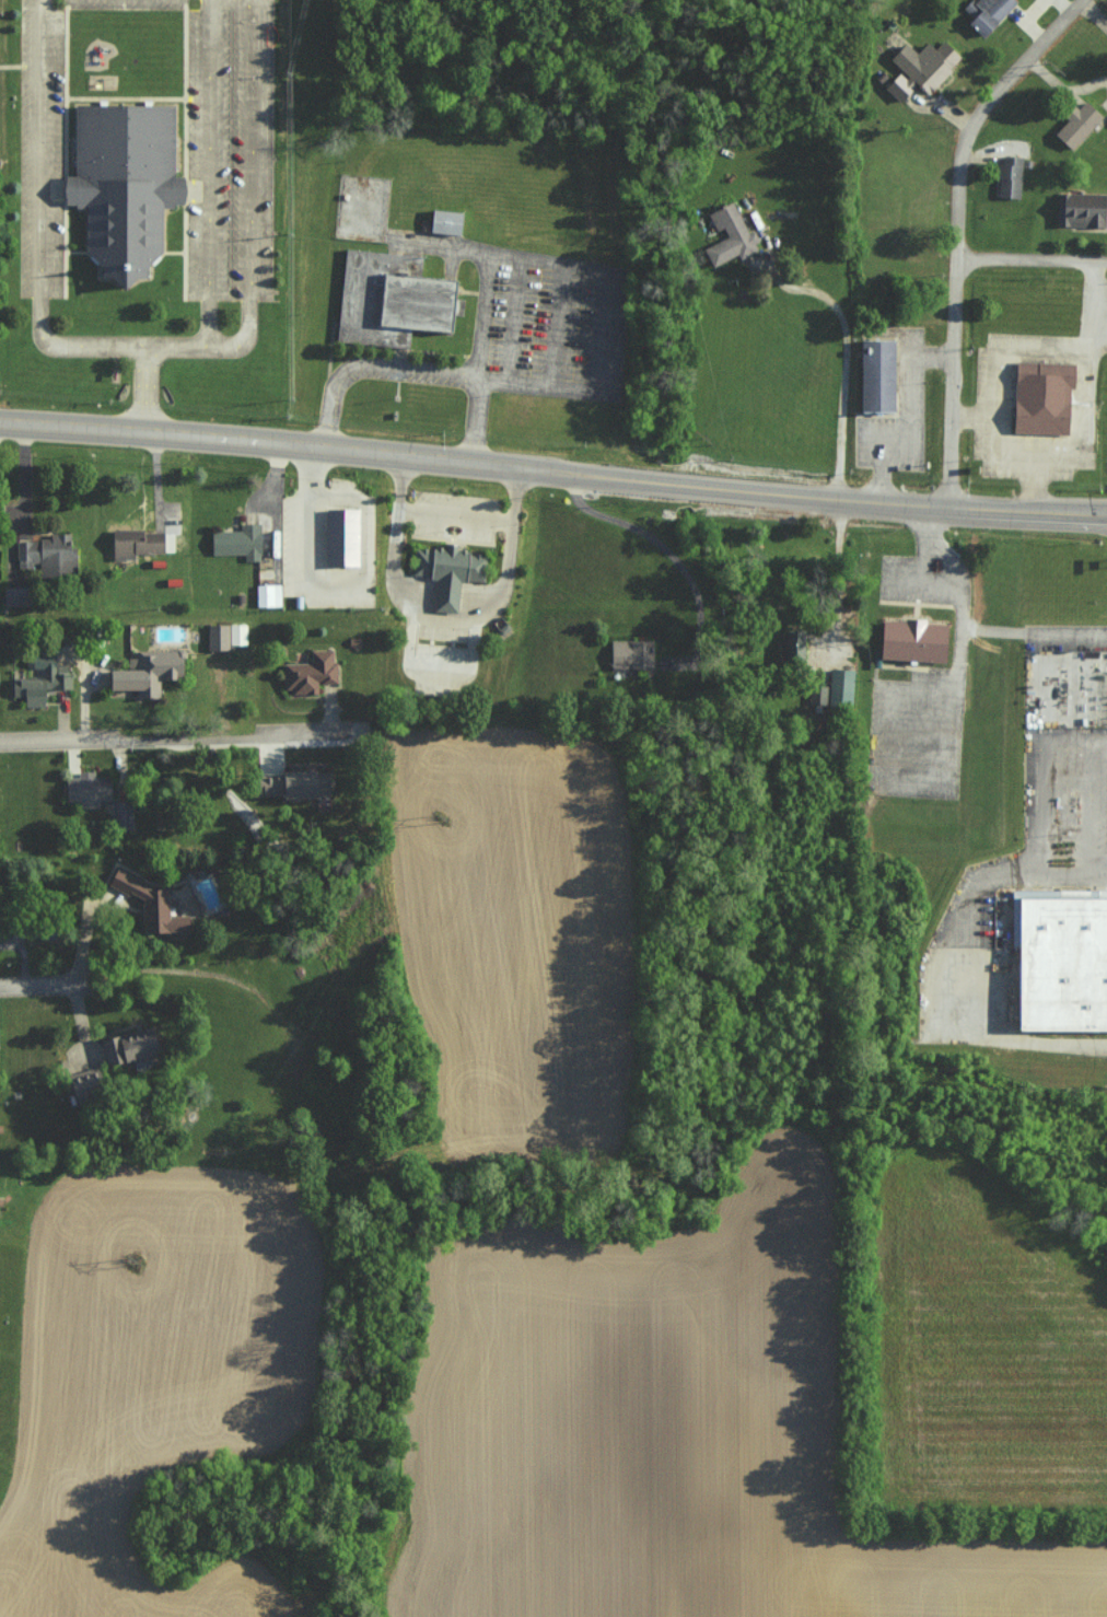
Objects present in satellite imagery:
parking lot: (127, 4)
building: (987, 13)
building: (920, 68)
building: (1076, 124)
parking lot: (43, 150)
parking lot: (229, 165)
road: (43, 166)
road: (249, 167)
road: (211, 173)
building: (1009, 176)
building: (124, 185)
parking lot: (363, 209)
building: (1080, 209)
building: (446, 222)
road: (956, 229)
building: (729, 235)
road: (510, 256)
road: (1032, 256)
building: (391, 300)
road: (486, 315)
road: (516, 319)
parking lot: (543, 323)
road: (558, 326)
road: (608, 333)
road: (92, 347)
road: (165, 348)
road: (848, 364)
road: (416, 371)
parking lot: (911, 373)
building: (878, 376)
road: (540, 384)
parking lot: (340, 397)
building: (1044, 398)
parking lot: (994, 406)
road: (907, 414)
road: (971, 418)
road: (1037, 455)
parking lot: (1106, 457)
road: (552, 463)
road: (300, 466)
road: (24, 468)
road: (1035, 479)
road: (325, 497)
road: (456, 516)
building: (342, 537)
road: (652, 540)
building: (236, 542)
building: (135, 543)
road: (300, 543)
road: (931, 543)
building: (47, 555)
road: (365, 563)
road: (839, 570)
building: (450, 573)
parking lot: (912, 582)
building: (267, 595)
road: (446, 627)
road: (981, 628)
building: (217, 637)
building: (913, 641)
building: (796, 648)
building: (630, 654)
building: (144, 672)
building: (310, 673)
building: (39, 685)
building: (834, 688)
road: (184, 735)
parking lot: (917, 736)
building: (292, 784)
building: (86, 789)
parking lot: (1100, 804)
road: (1085, 805)
road: (1037, 809)
building: (120, 815)
road: (974, 883)
building: (148, 905)
building: (1061, 961)
road: (36, 988)
road: (990, 1033)
building: (126, 1047)

